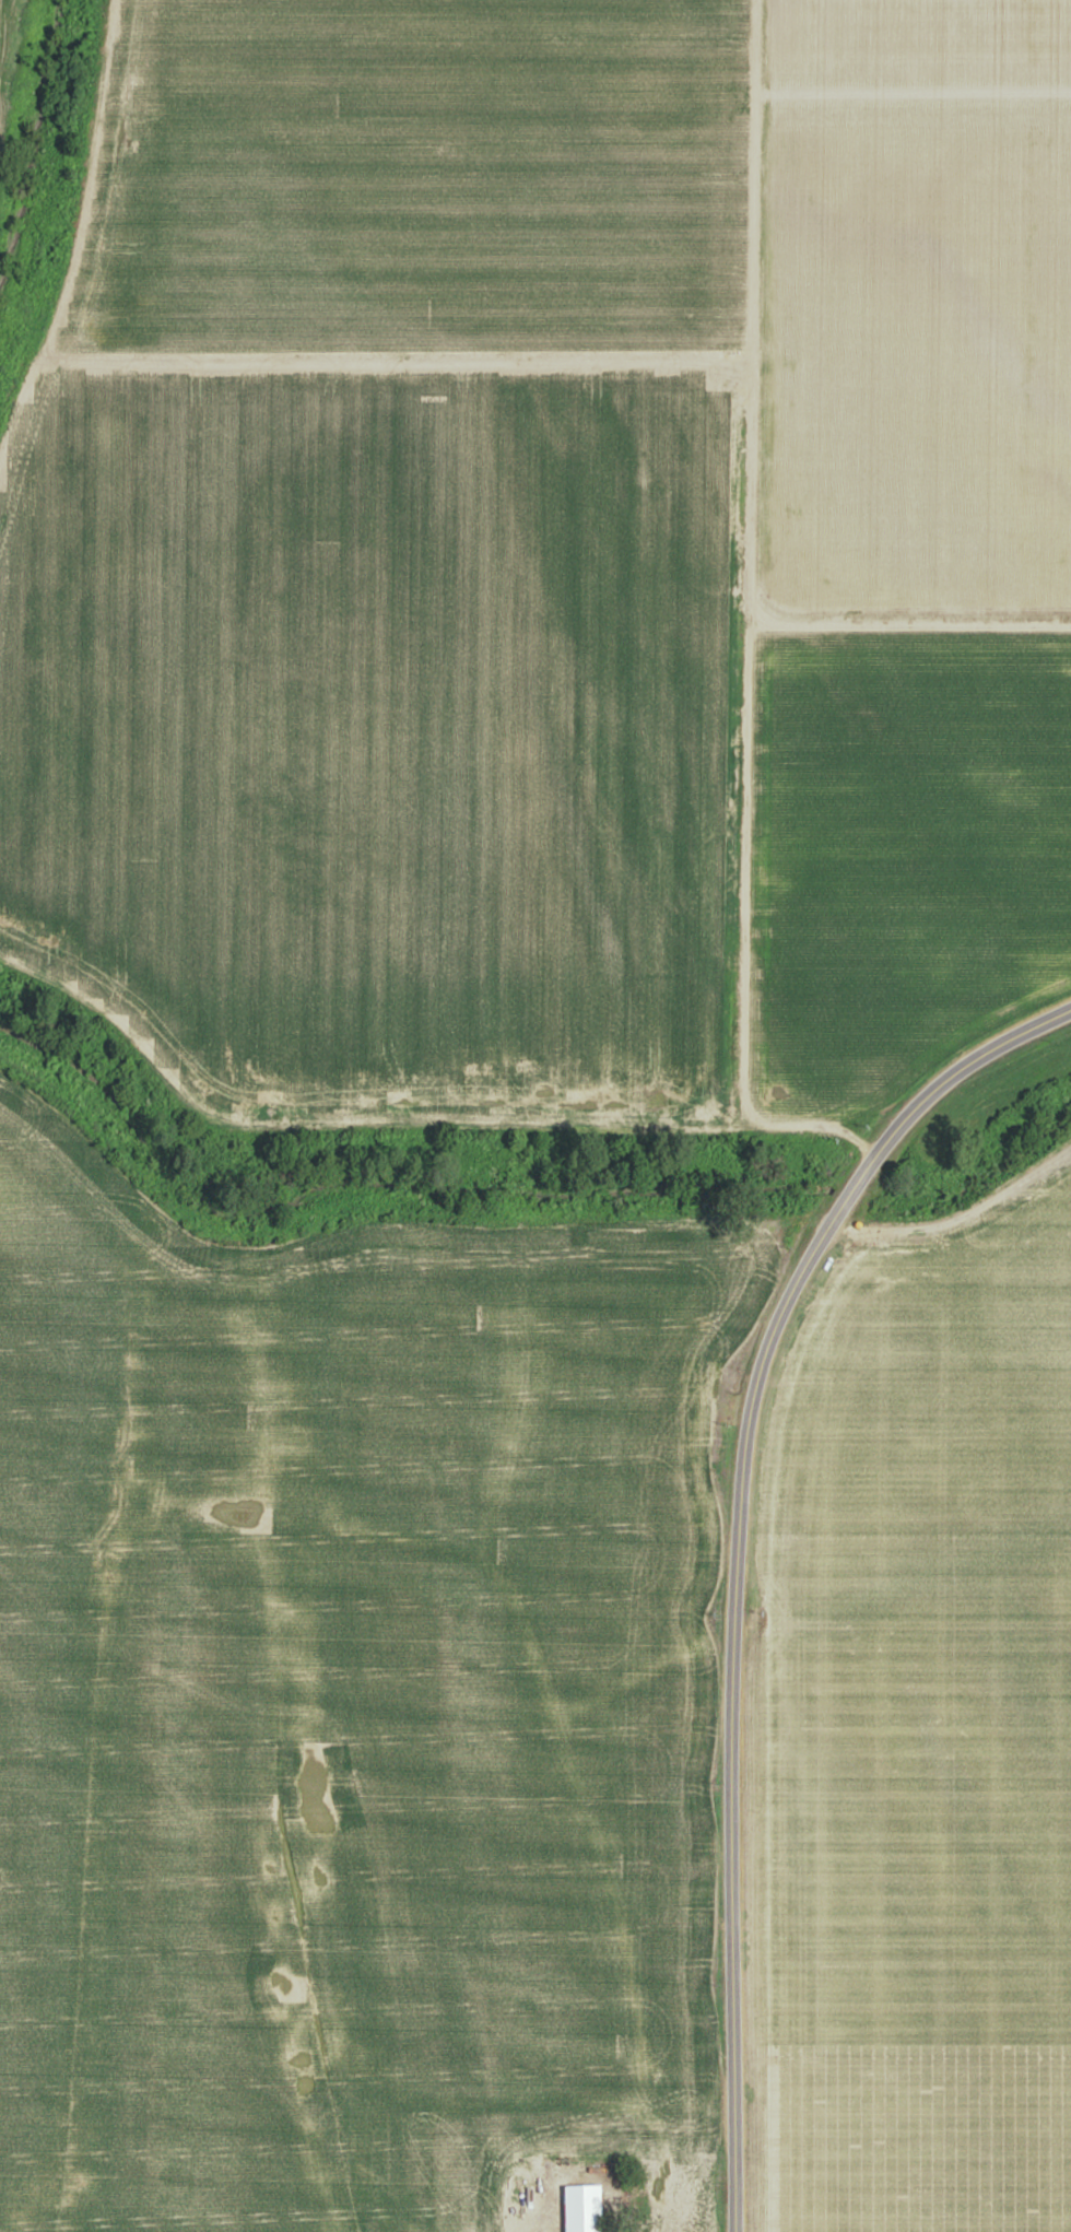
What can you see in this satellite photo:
road: (738, 1555)
building: (567, 2208)

